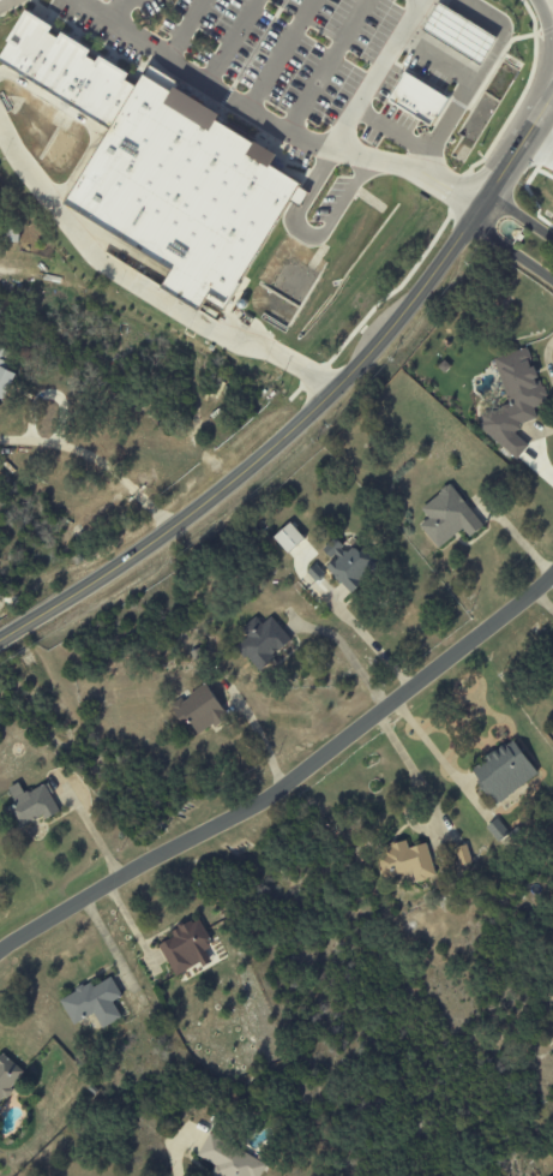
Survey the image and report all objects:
road: (122, 8)
road: (182, 26)
building: (456, 32)
gas station: (456, 32)
road: (229, 40)
parking lot: (253, 50)
road: (279, 53)
road: (324, 65)
building: (59, 66)
road: (371, 73)
road: (477, 77)
building: (416, 99)
road: (274, 123)
road: (541, 148)
building: (179, 191)
road: (517, 233)
road: (306, 235)
road: (142, 287)
road: (546, 360)
building: (5, 374)
building: (513, 401)
road: (313, 410)
road: (533, 450)
road: (106, 468)
building: (447, 517)
building: (288, 538)
building: (349, 565)
building: (262, 641)
road: (347, 650)
building: (198, 710)
road: (427, 742)
building: (503, 771)
road: (288, 781)
building: (31, 805)
building: (495, 829)
building: (404, 861)
building: (186, 947)
building: (92, 1003)
building: (8, 1075)
building: (229, 1159)
road: (174, 1160)

